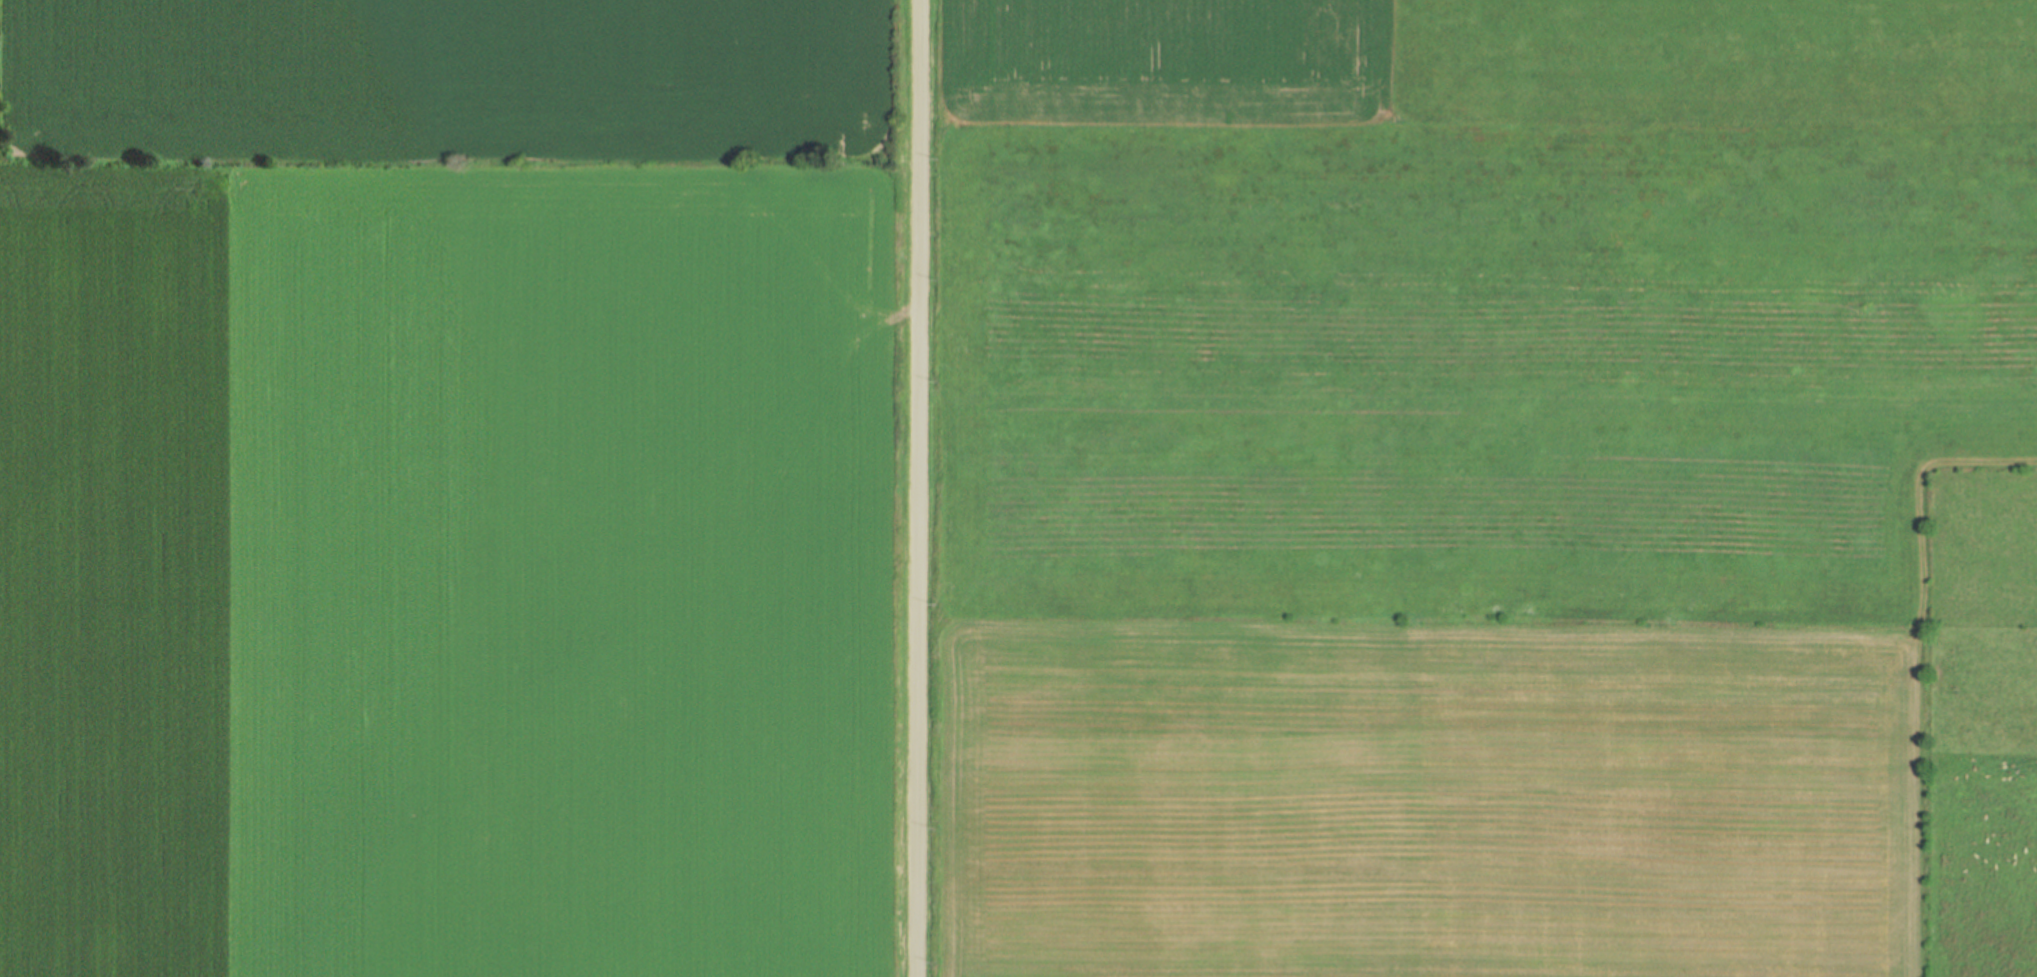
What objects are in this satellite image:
road: (917, 488)

